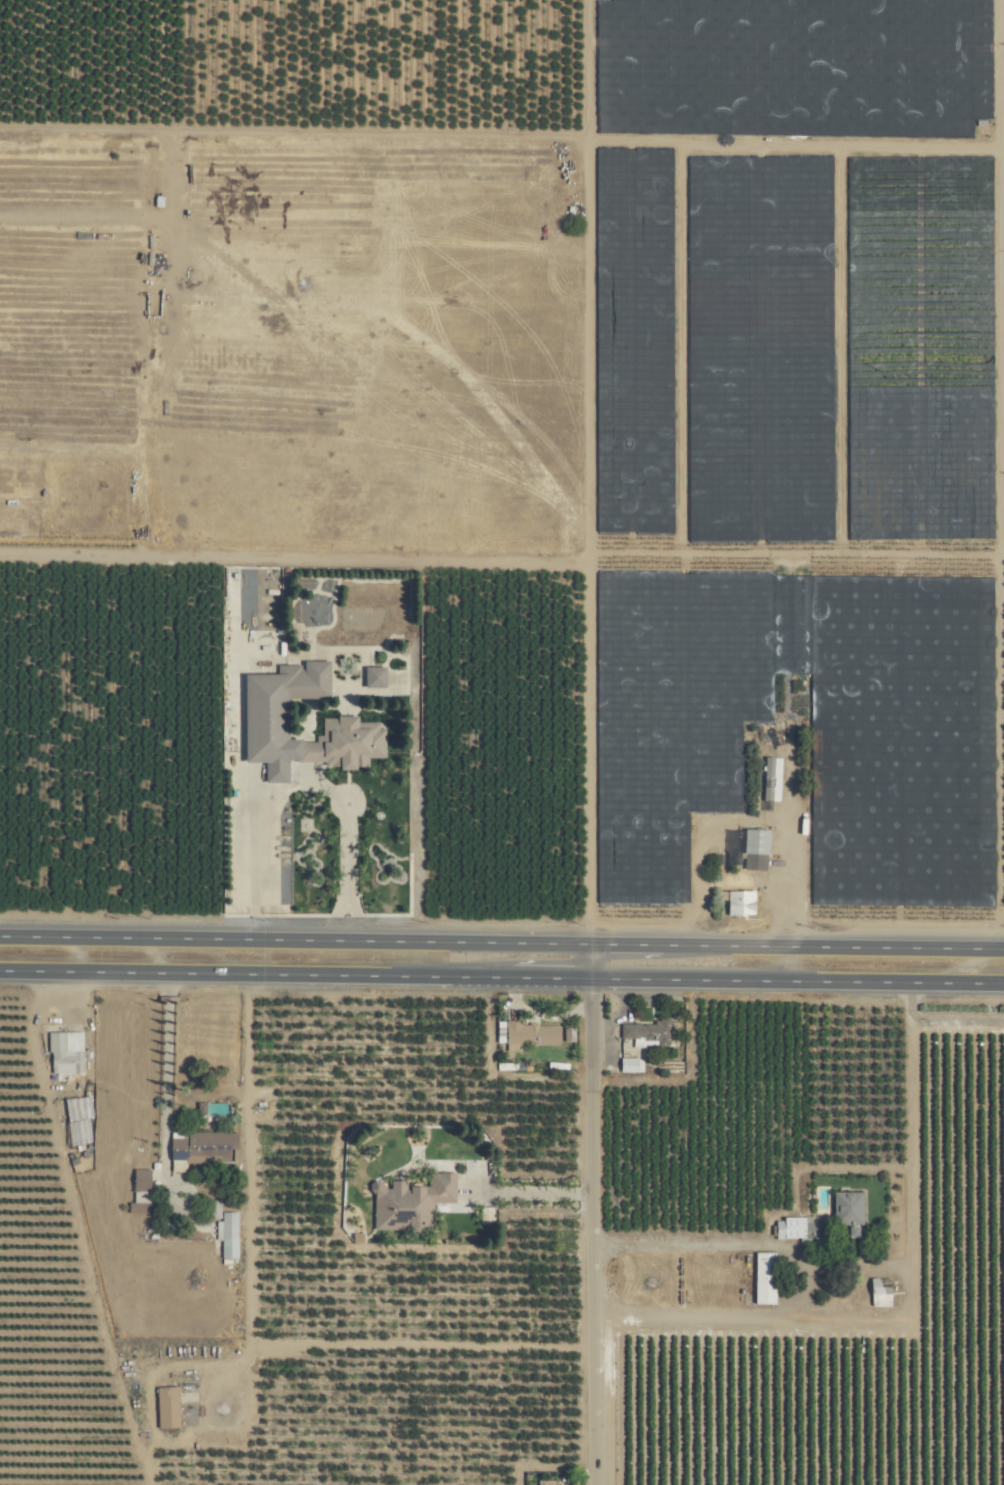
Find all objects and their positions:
building: (373, 676)
building: (264, 719)
crop: (502, 742)
building: (771, 779)
road: (750, 822)
building: (754, 849)
building: (739, 902)
road: (295, 939)
road: (625, 943)
road: (832, 946)
road: (254, 974)
road: (550, 977)
road: (796, 980)
road: (956, 1020)
building: (644, 1031)
building: (530, 1033)
building: (65, 1052)
building: (630, 1065)
road: (165, 1084)
road: (532, 1192)
road: (909, 1195)
building: (410, 1202)
building: (847, 1211)
road: (591, 1214)
building: (795, 1228)
building: (227, 1235)
building: (764, 1278)
road: (802, 1286)
building: (880, 1292)
building: (167, 1407)

